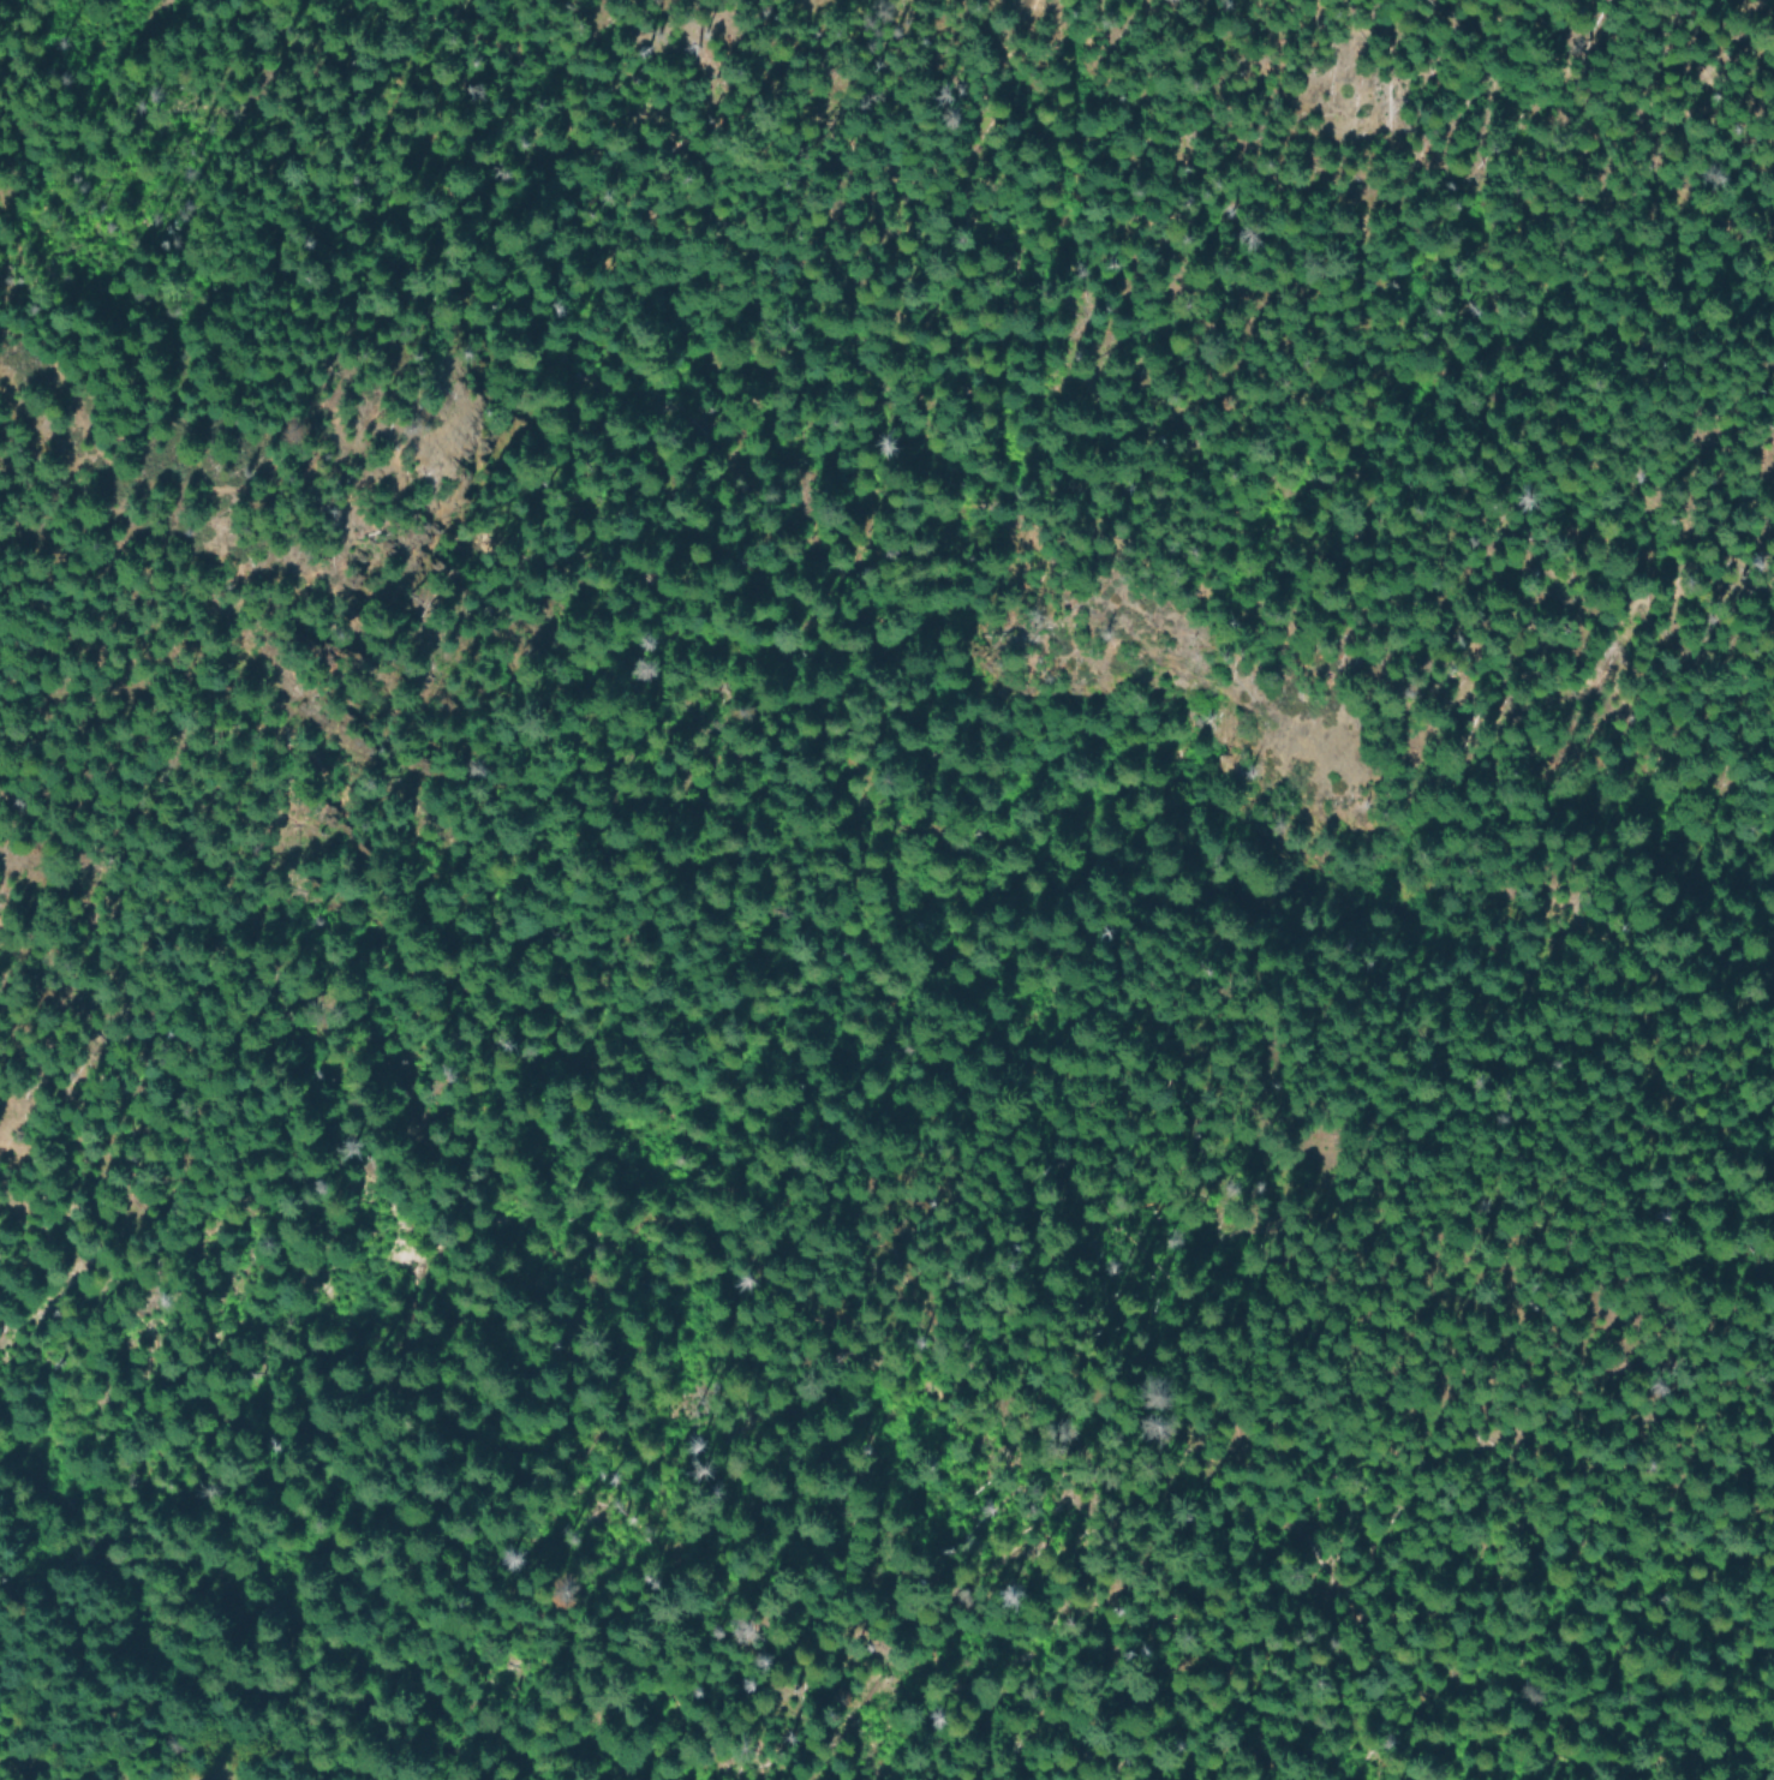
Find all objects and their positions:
road: (1696, 217)
road: (276, 431)
road: (1540, 1258)

